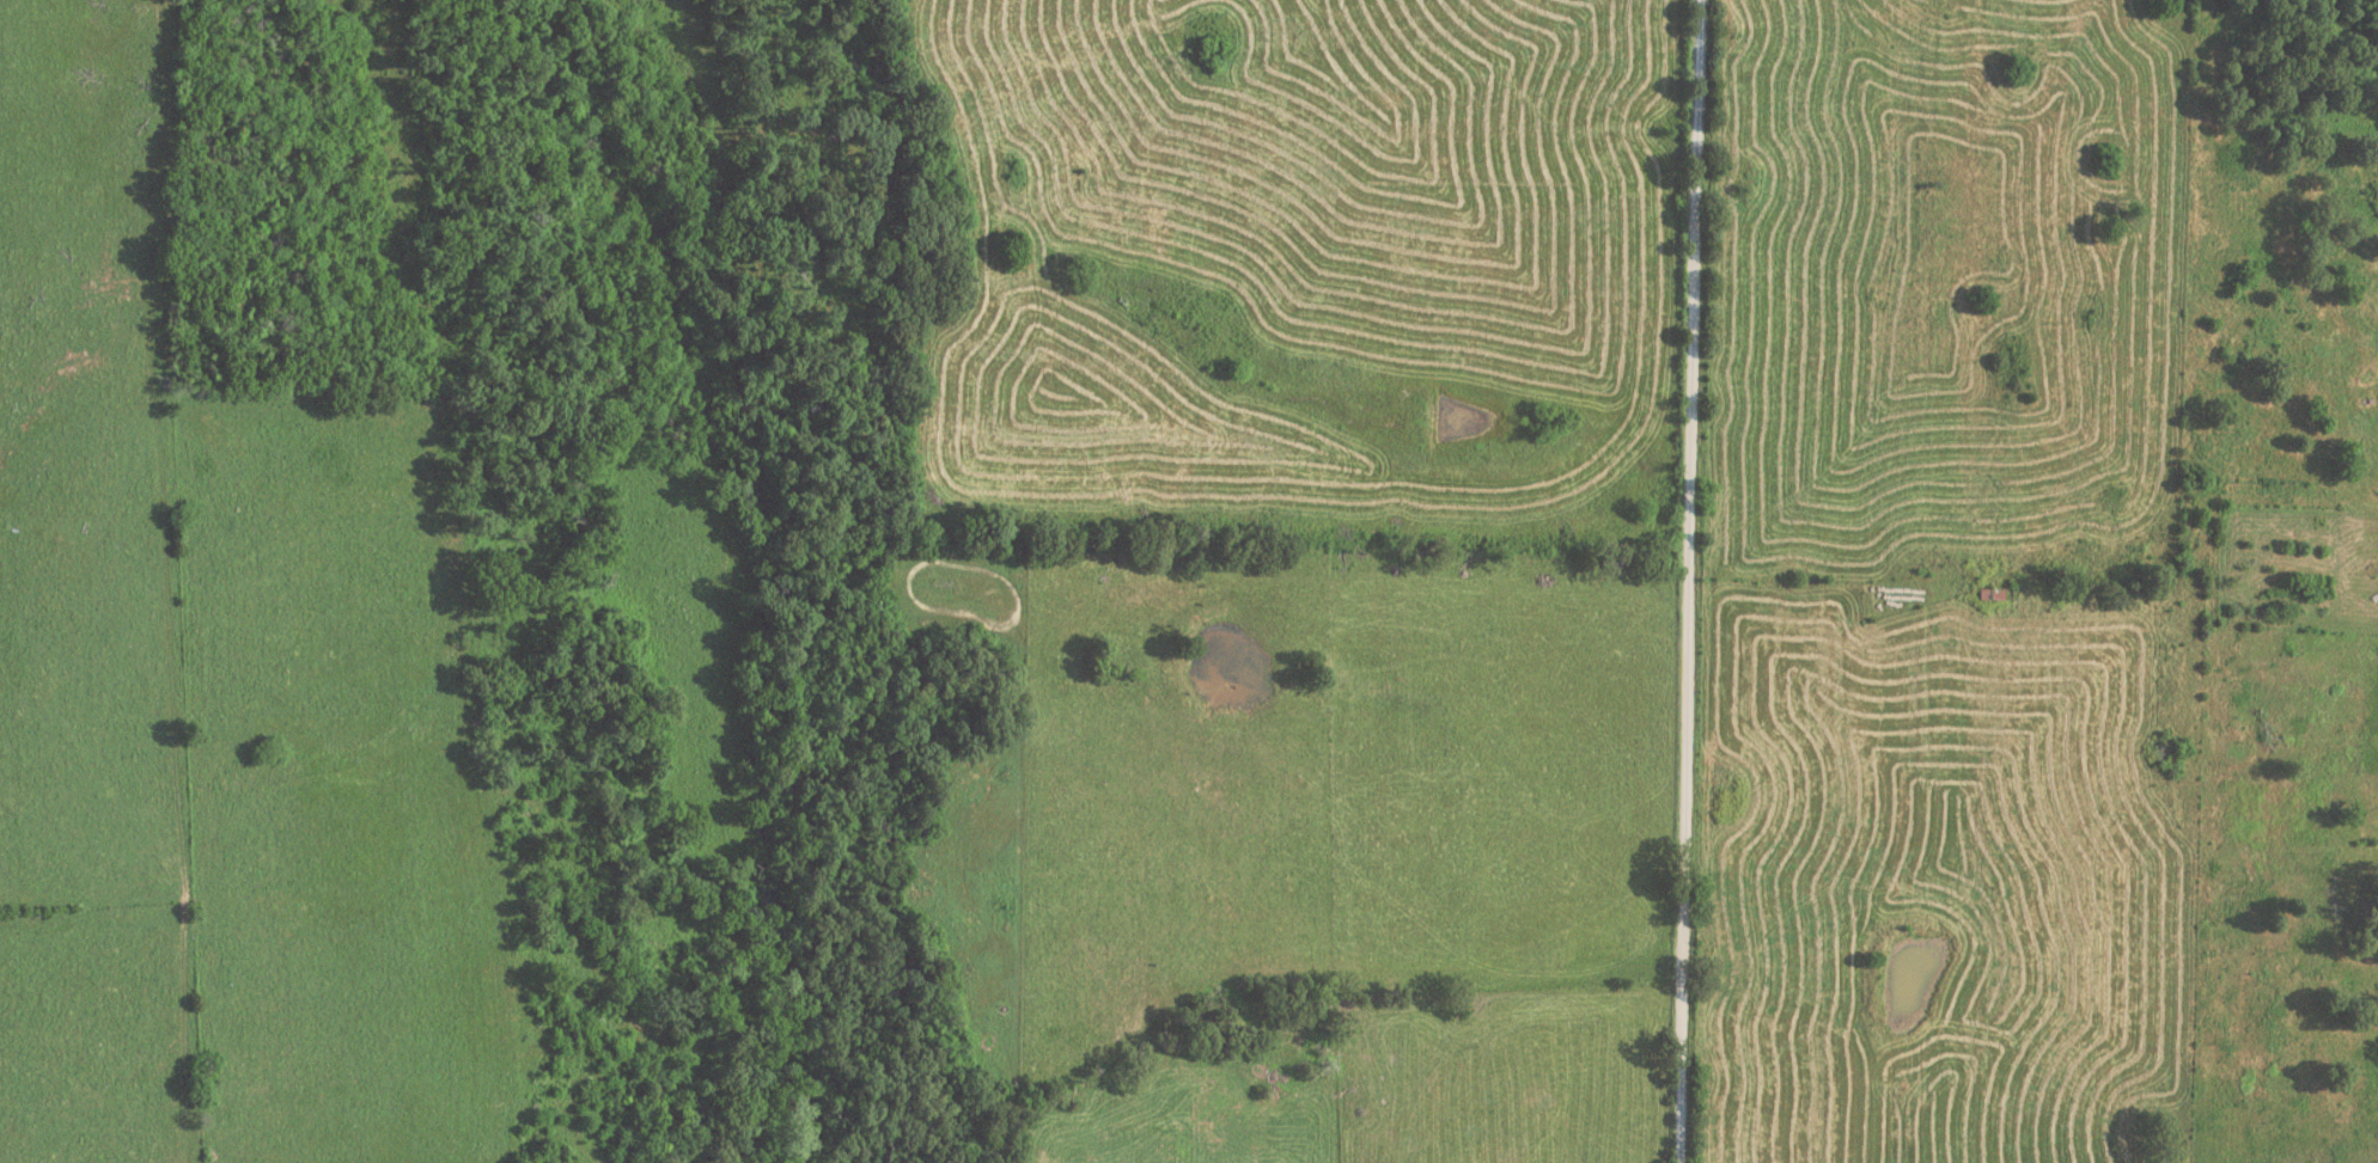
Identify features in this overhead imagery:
road: (1687, 581)
building: (1989, 593)

